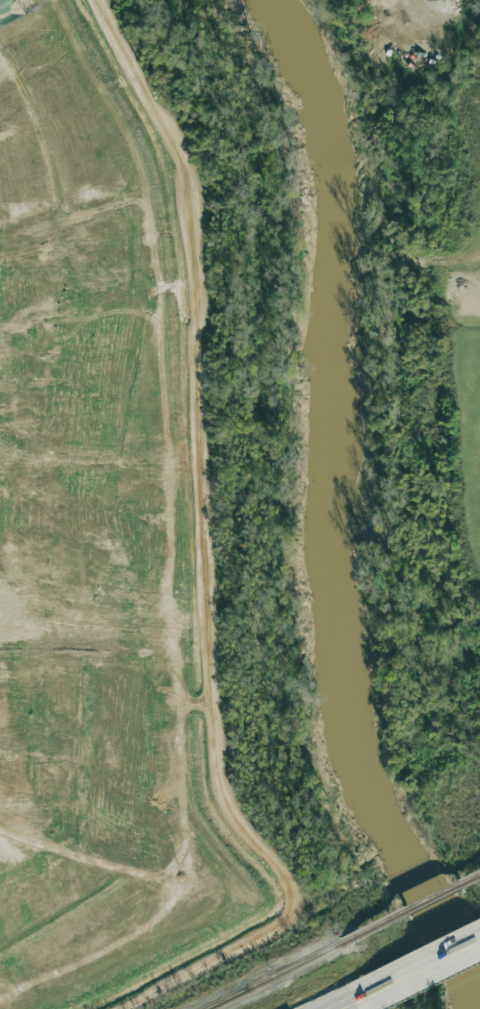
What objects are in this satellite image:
river: (322, 505)
landfill: (98, 533)
road: (201, 554)
railway: (411, 909)
railway: (296, 966)
road: (425, 968)
railway: (227, 999)
railway: (229, 999)
road: (355, 1002)

